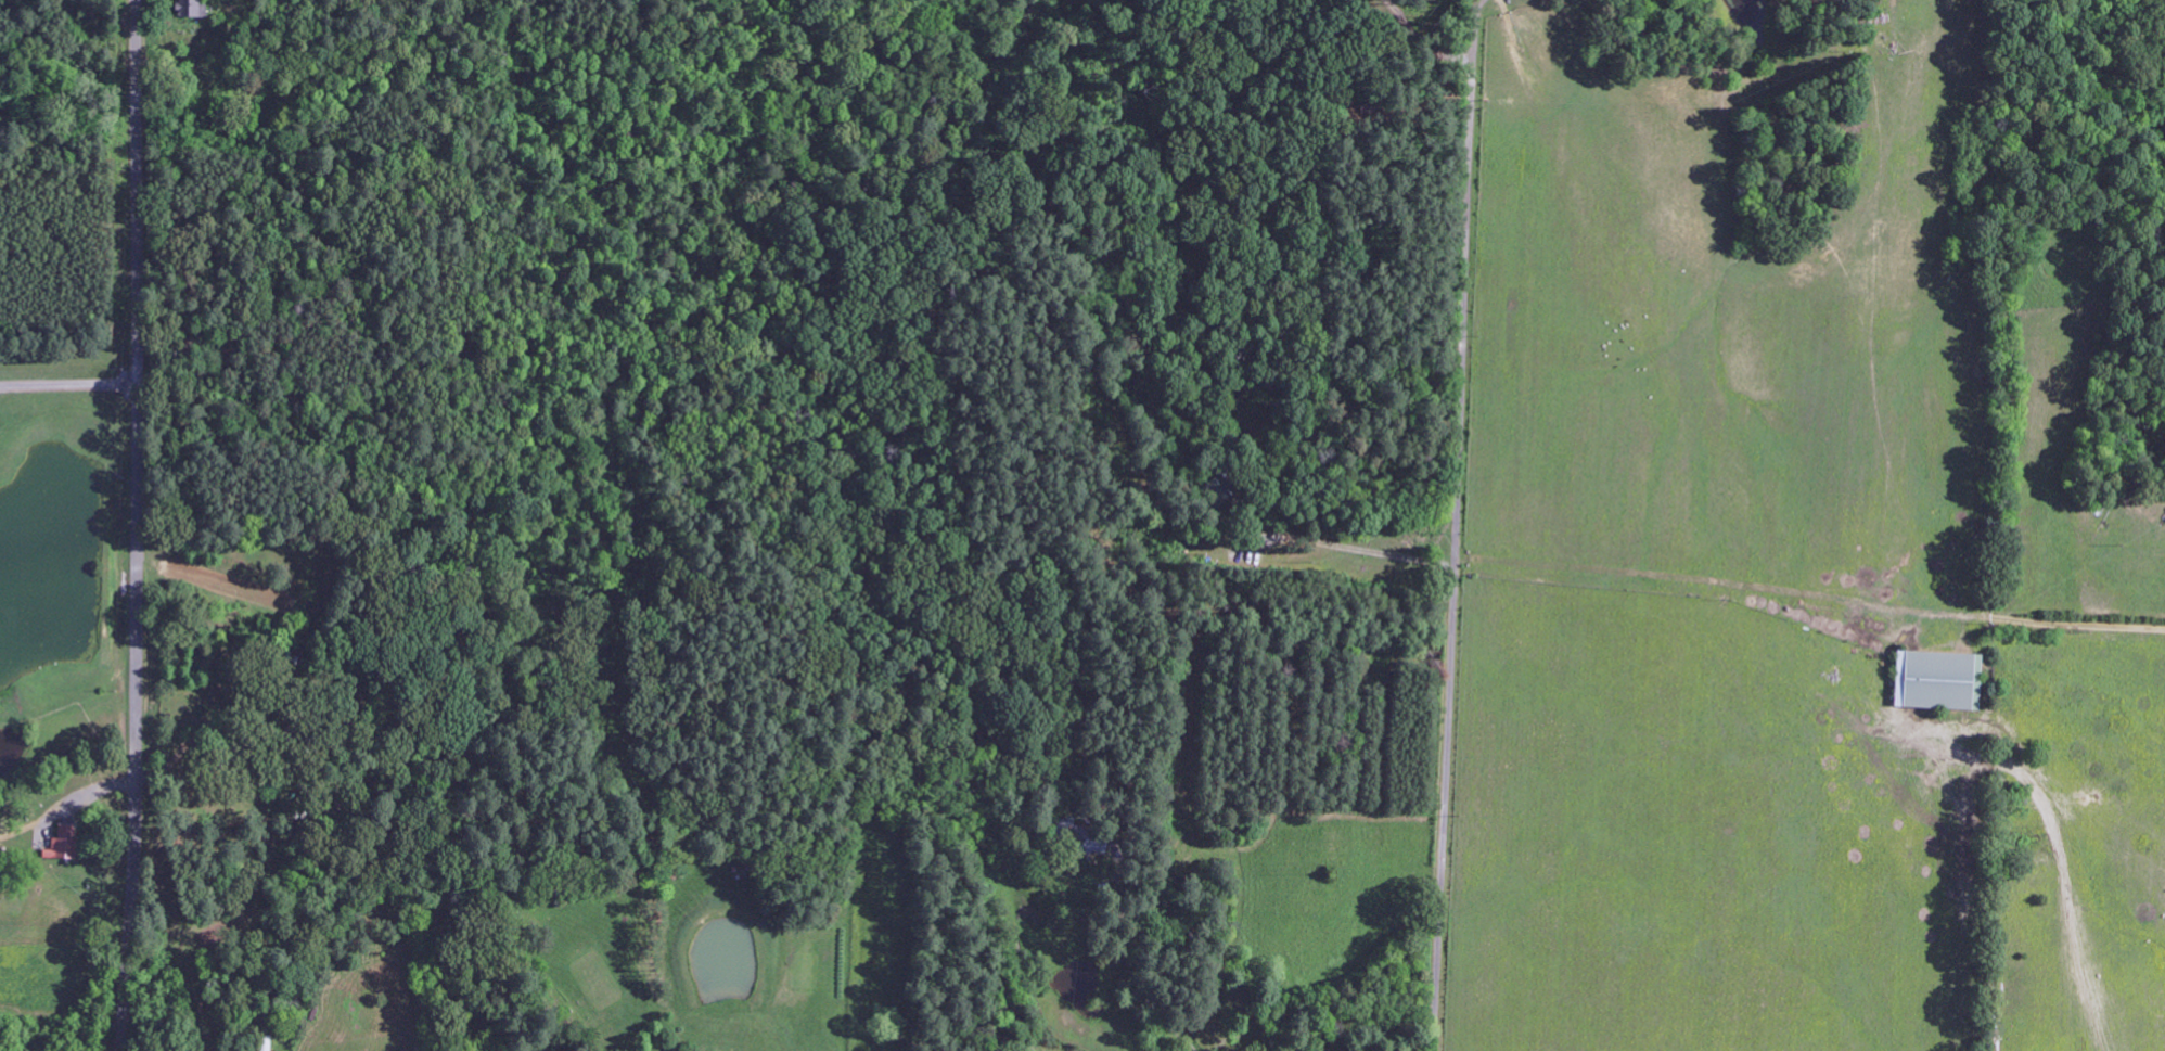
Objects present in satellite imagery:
building: (193, 9)
road: (1280, 384)
road: (137, 525)
road: (1457, 525)
road: (2086, 625)
building: (1934, 682)
road: (1328, 740)
road: (798, 806)
building: (65, 844)
building: (265, 1044)

